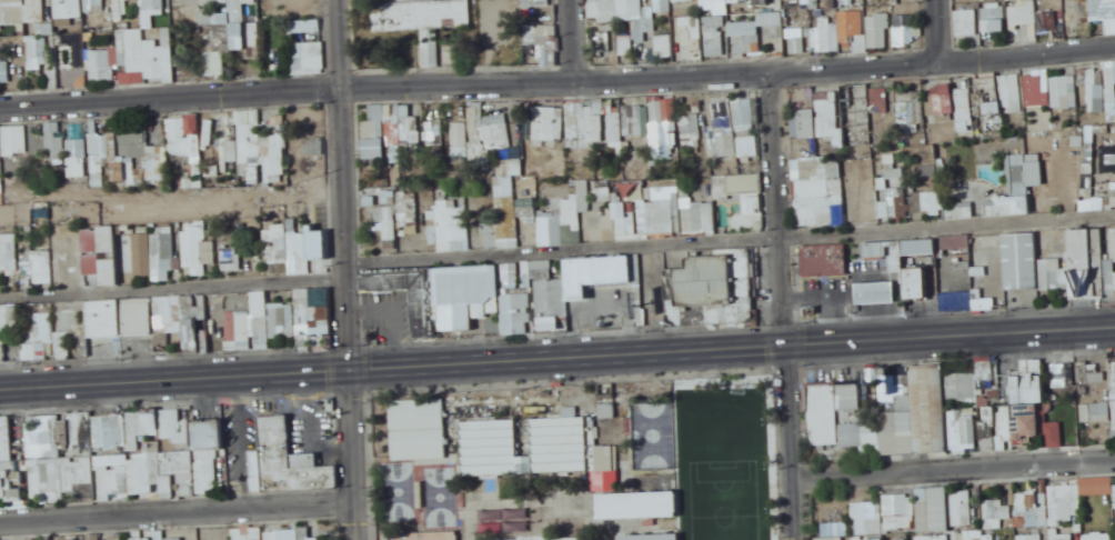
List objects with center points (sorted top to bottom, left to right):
road: (573, 39)
road: (345, 270)
gas station: (875, 294)

